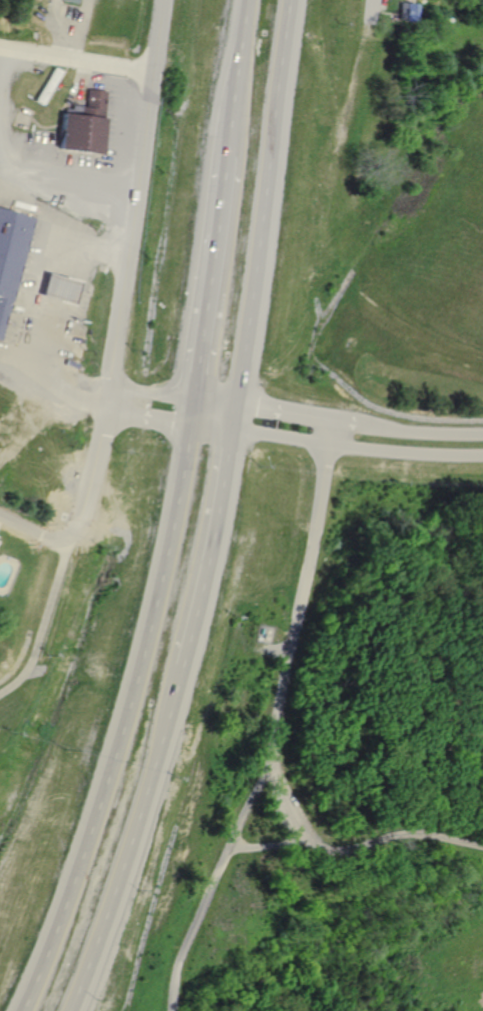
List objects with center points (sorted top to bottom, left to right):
building: (70, 1)
building: (404, 11)
road: (368, 15)
road: (77, 61)
road: (236, 77)
building: (47, 86)
building: (82, 124)
road: (12, 169)
road: (261, 202)
building: (11, 252)
road: (121, 269)
road: (208, 276)
building: (56, 288)
gas station: (56, 288)
road: (28, 308)
road: (148, 392)
road: (209, 401)
road: (188, 411)
road: (279, 411)
road: (143, 416)
road: (344, 420)
road: (205, 427)
road: (420, 431)
road: (275, 435)
road: (404, 451)
road: (31, 533)
road: (206, 535)
park: (340, 588)
road: (42, 618)
road: (117, 722)
road: (279, 725)
road: (126, 840)
road: (270, 847)
road: (356, 847)

